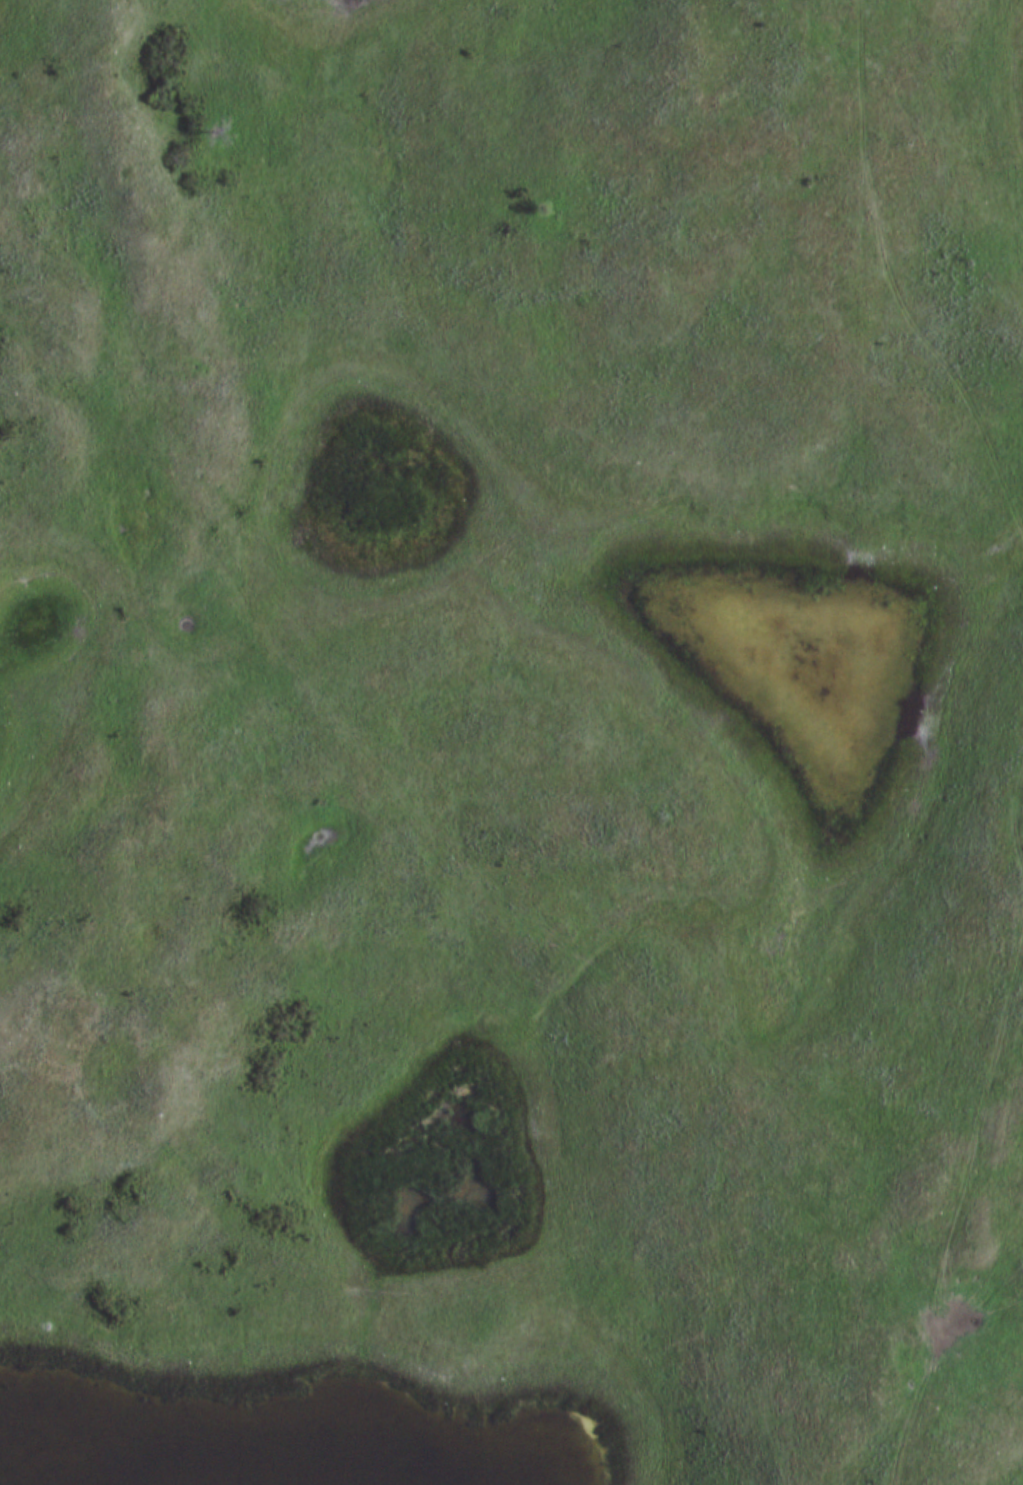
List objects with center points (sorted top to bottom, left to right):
road: (913, 1420)

